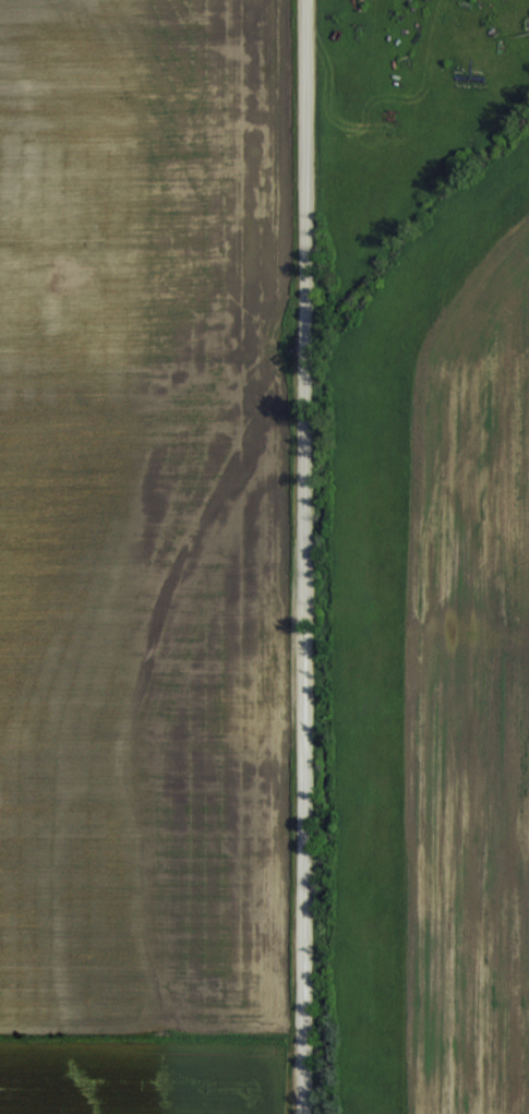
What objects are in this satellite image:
road: (304, 556)

